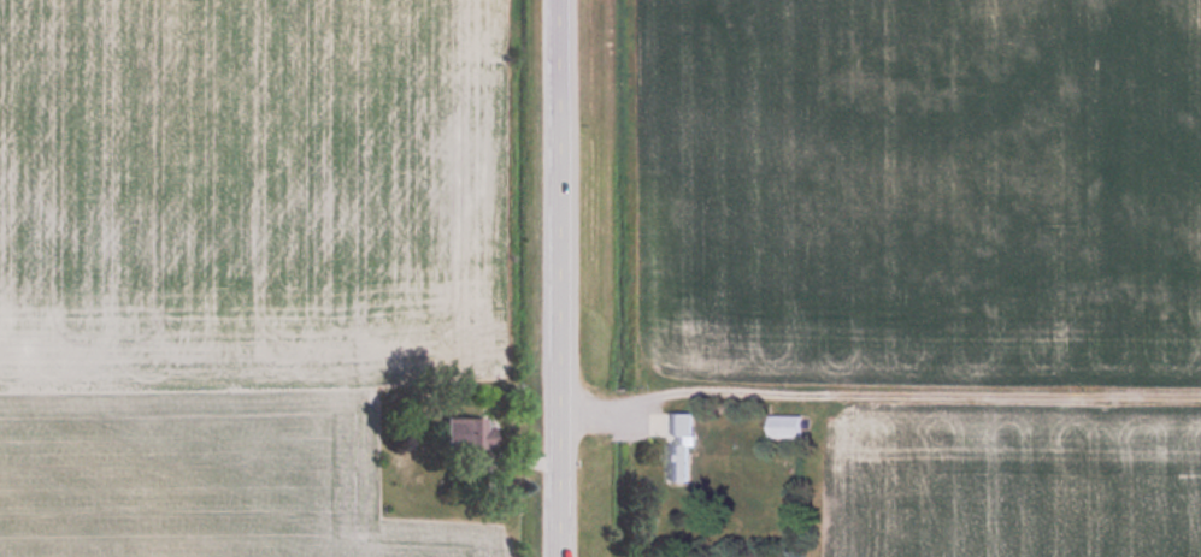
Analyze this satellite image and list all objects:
road: (561, 278)
road: (912, 391)
road: (595, 410)
building: (787, 426)
building: (465, 434)
building: (682, 448)

